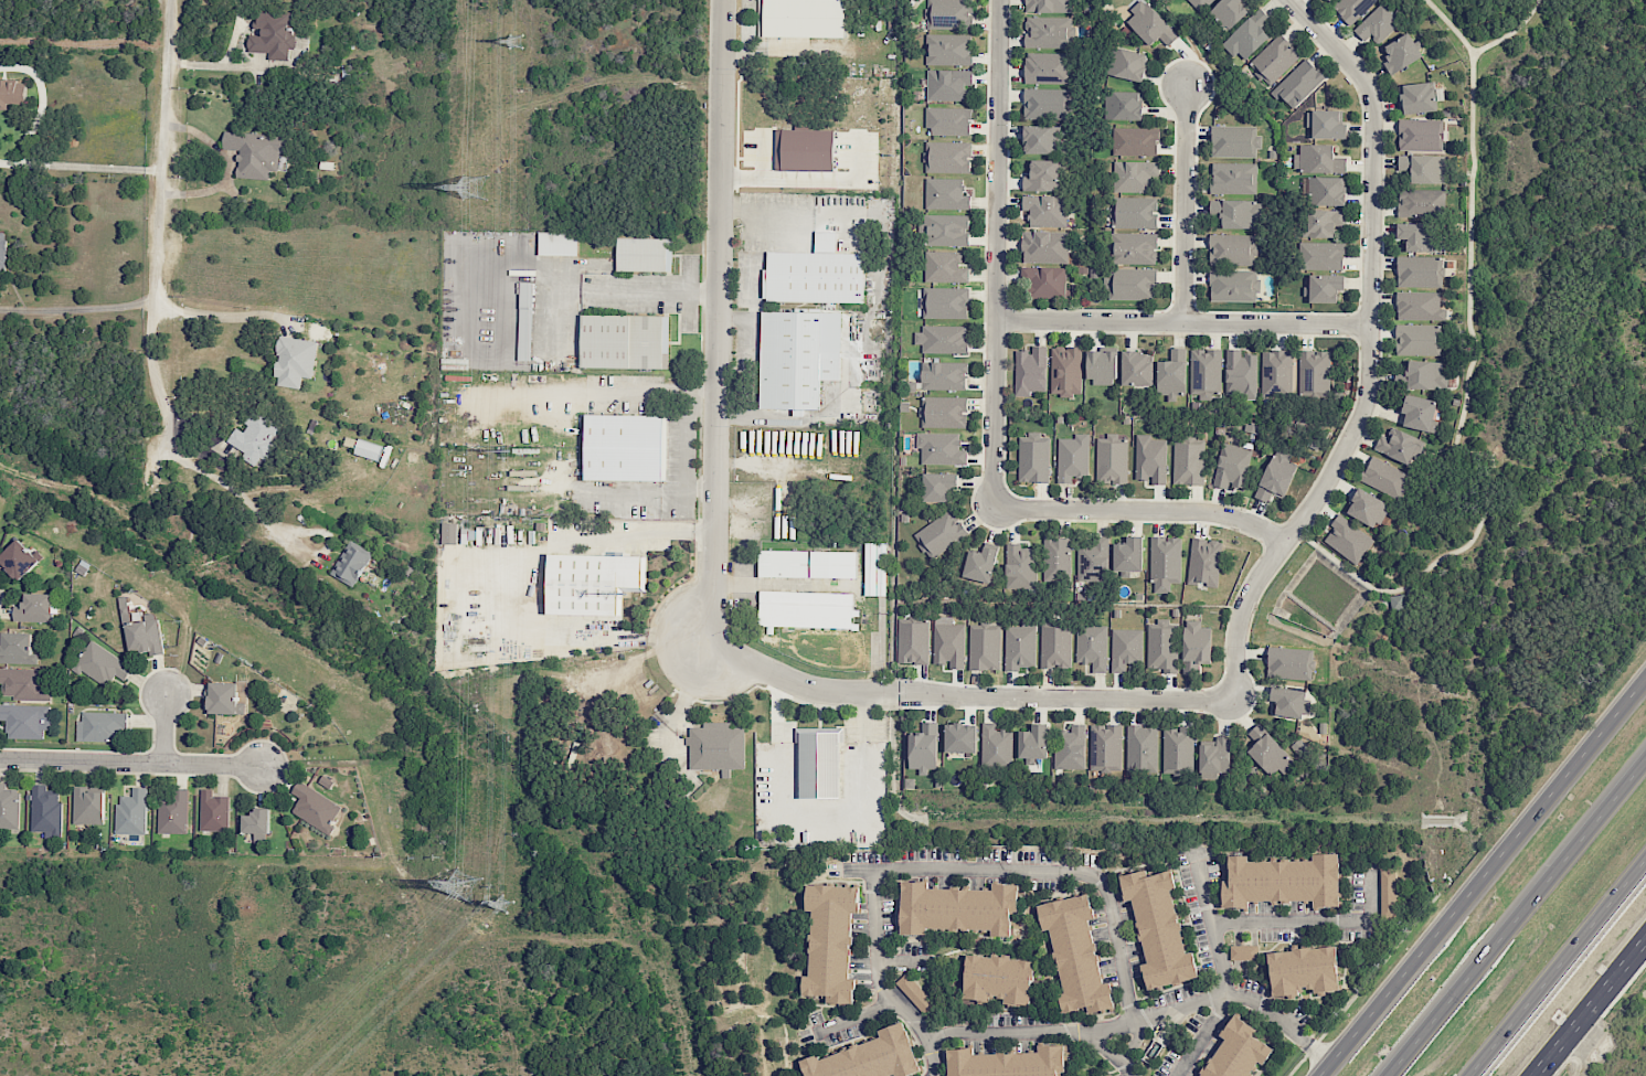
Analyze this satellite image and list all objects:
building: (1327, 0)
building: (1199, 3)
building: (1049, 6)
building: (1351, 8)
building: (1230, 11)
building: (948, 14)
building: (800, 18)
building: (1149, 24)
building: (1377, 24)
building: (1048, 32)
building: (270, 34)
building: (1249, 35)
power tower: (519, 40)
road: (84, 43)
building: (948, 49)
building: (1401, 53)
building: (1274, 60)
building: (1126, 64)
building: (1047, 67)
building: (1298, 83)
building: (947, 84)
building: (11, 93)
building: (1419, 97)
building: (1044, 103)
building: (1123, 105)
building: (948, 121)
building: (1326, 125)
building: (1420, 134)
building: (1041, 139)
building: (1135, 141)
building: (1234, 141)
building: (804, 150)
building: (255, 152)
building: (947, 157)
building: (1318, 159)
road: (79, 166)
building: (1423, 168)
building: (1042, 175)
building: (1133, 175)
building: (1233, 178)
power tower: (480, 190)
building: (1325, 191)
building: (945, 194)
building: (1421, 202)
road: (1183, 205)
building: (1045, 210)
building: (1134, 212)
building: (1238, 213)
road: (748, 216)
building: (1323, 222)
road: (156, 226)
building: (946, 230)
building: (1417, 236)
building: (557, 243)
building: (1044, 246)
building: (1134, 248)
building: (1232, 249)
building: (644, 254)
road: (994, 254)
building: (1320, 255)
building: (2, 257)
building: (944, 267)
building: (1420, 271)
building: (815, 274)
building: (1044, 283)
building: (1132, 285)
building: (1233, 285)
building: (1325, 287)
road: (651, 291)
building: (944, 302)
building: (1419, 306)
road: (75, 309)
road: (212, 313)
building: (524, 321)
road: (713, 322)
road: (1179, 323)
building: (942, 339)
building: (1416, 339)
building: (624, 341)
road: (1367, 350)
building: (797, 358)
building: (294, 361)
building: (1102, 367)
building: (1137, 369)
building: (1030, 370)
building: (1065, 371)
building: (1314, 371)
building: (1204, 372)
building: (1276, 373)
building: (1172, 374)
building: (1241, 374)
building: (943, 375)
building: (1426, 375)
road: (620, 387)
building: (944, 412)
building: (1419, 413)
building: (254, 437)
road: (681, 439)
building: (1401, 446)
building: (623, 447)
building: (941, 448)
building: (368, 449)
power tower: (509, 450)
building: (1072, 457)
building: (1033, 458)
building: (1150, 459)
building: (1112, 460)
building: (1188, 462)
building: (1232, 466)
building: (1276, 476)
building: (1384, 477)
building: (937, 486)
road: (615, 492)
road: (238, 496)
road: (1144, 508)
building: (1367, 508)
building: (448, 533)
building: (470, 533)
building: (941, 533)
building: (1348, 540)
building: (1128, 555)
building: (1055, 558)
building: (19, 560)
building: (1092, 560)
building: (1203, 562)
building: (351, 563)
building: (1165, 563)
building: (807, 564)
building: (980, 564)
building: (1019, 566)
building: (874, 568)
building: (593, 583)
building: (34, 608)
building: (806, 610)
building: (145, 635)
building: (913, 642)
building: (948, 642)
building: (1196, 644)
building: (1019, 646)
building: (984, 647)
building: (1055, 647)
building: (1092, 647)
building: (1160, 647)
building: (17, 648)
building: (1125, 648)
building: (1289, 663)
building: (100, 664)
building: (23, 684)
road: (965, 695)
building: (224, 699)
building: (1289, 701)
road: (864, 715)
building: (24, 720)
building: (100, 726)
road: (169, 727)
building: (959, 737)
building: (1032, 743)
building: (996, 746)
building: (1105, 746)
building: (716, 747)
building: (1069, 747)
building: (923, 748)
building: (1141, 748)
building: (1178, 750)
building: (1270, 753)
building: (1215, 758)
building: (819, 760)
road: (132, 764)
building: (88, 805)
building: (8, 807)
building: (315, 807)
building: (45, 811)
building: (172, 811)
building: (213, 811)
building: (131, 812)
building: (257, 824)
road: (1055, 874)
road: (1482, 875)
building: (1282, 881)
power tower: (445, 887)
building: (1388, 894)
power tower: (507, 901)
building: (957, 908)
road: (1517, 918)
road: (1310, 921)
building: (1158, 928)
building: (830, 941)
building: (1243, 952)
building: (1075, 954)
road: (1557, 966)
building: (1303, 970)
building: (997, 979)
building: (914, 992)
road: (1591, 1009)
road: (858, 1020)
road: (1277, 1023)
road: (1106, 1026)
road: (1039, 1036)
road: (1211, 1036)
road: (1135, 1047)
building: (1236, 1051)
building: (868, 1057)
building: (1007, 1063)
building: (1114, 1075)

